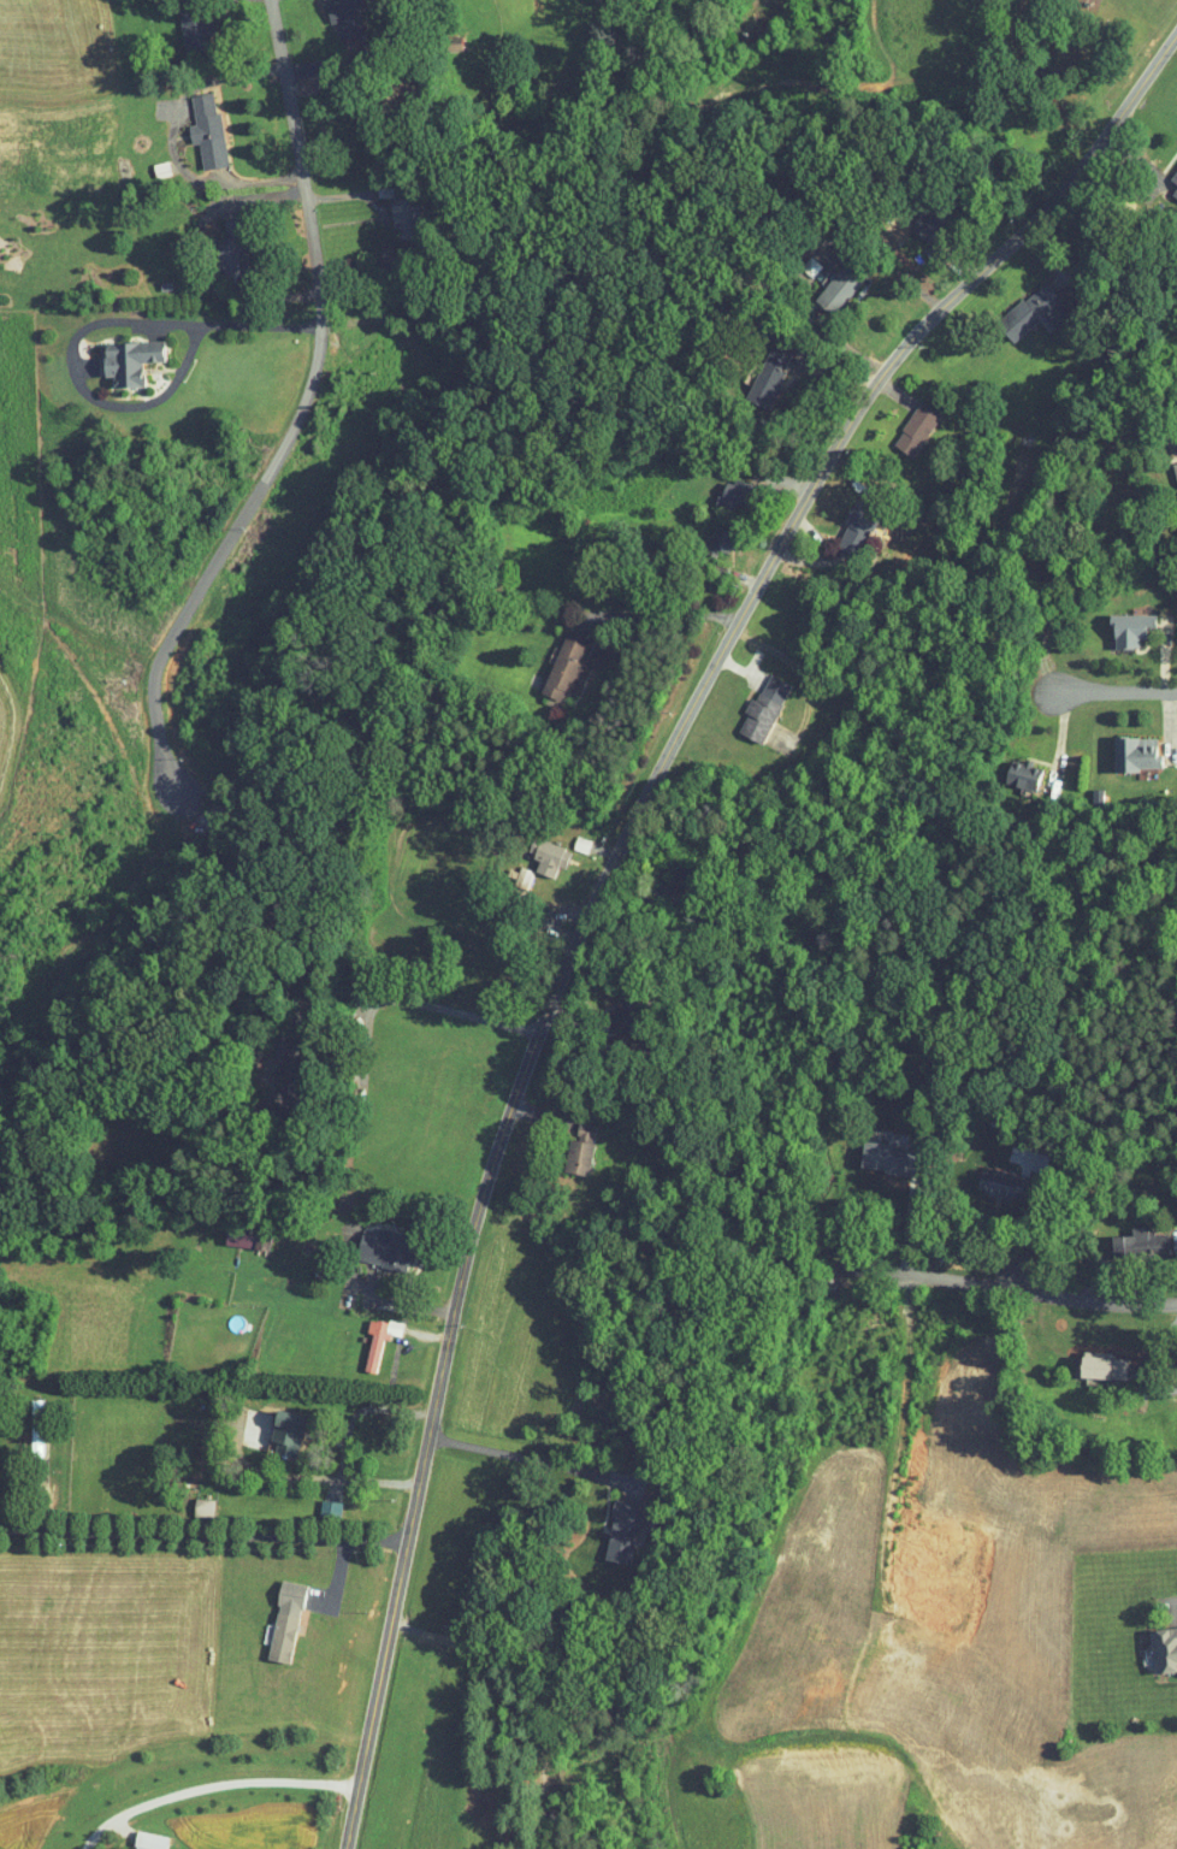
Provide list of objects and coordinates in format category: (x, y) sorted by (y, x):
building: (175, 13)
building: (331, 14)
building: (193, 124)
building: (1169, 172)
building: (391, 212)
building: (213, 244)
building: (823, 283)
building: (1015, 303)
road: (84, 327)
building: (114, 354)
building: (755, 368)
road: (302, 391)
building: (903, 423)
building: (1169, 471)
building: (717, 488)
building: (840, 526)
building: (703, 533)
road: (787, 533)
road: (661, 614)
building: (1116, 622)
building: (551, 660)
road: (1108, 695)
building: (749, 703)
building: (1122, 746)
building: (1009, 768)
building: (567, 837)
building: (533, 849)
building: (508, 870)
road: (422, 1008)
building: (566, 1141)
building: (870, 1146)
building: (984, 1175)
building: (1125, 1233)
building: (368, 1242)
road: (990, 1287)
building: (365, 1331)
building: (1088, 1358)
road: (360, 1411)
building: (22, 1419)
building: (272, 1425)
road: (530, 1459)
road: (418, 1477)
road: (327, 1478)
building: (189, 1499)
building: (315, 1500)
building: (607, 1524)
road: (202, 1534)
building: (271, 1613)
building: (1153, 1641)
road: (514, 1701)
airport runway: (402, 1758)
road: (212, 1785)
building: (134, 1837)

